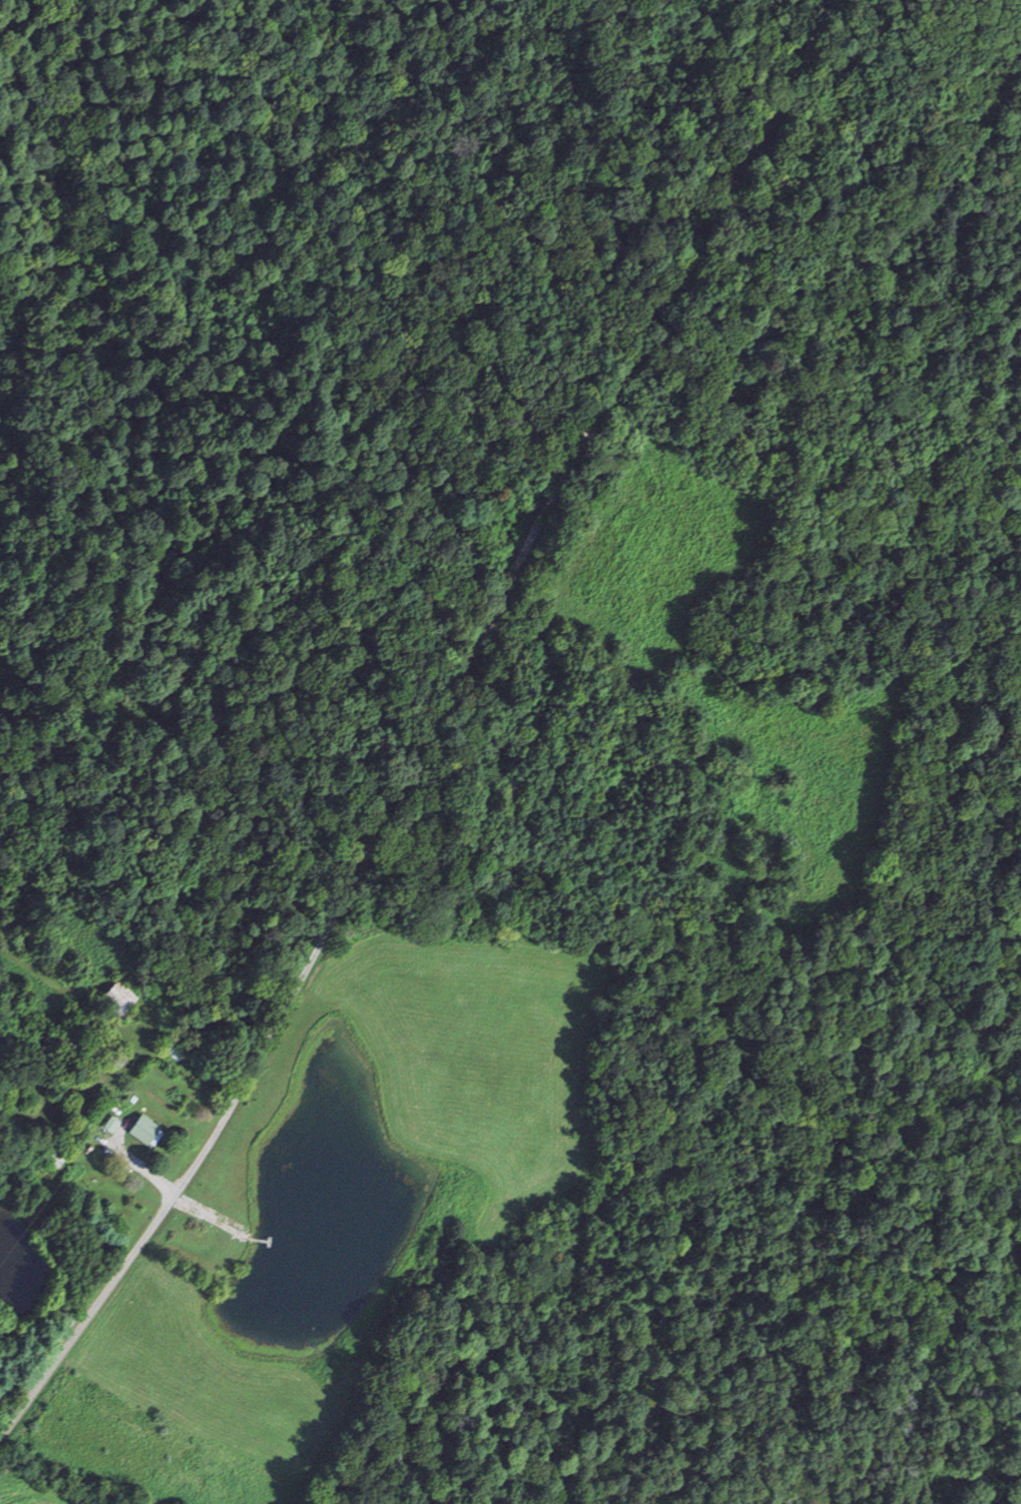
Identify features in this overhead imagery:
road: (432, 732)

